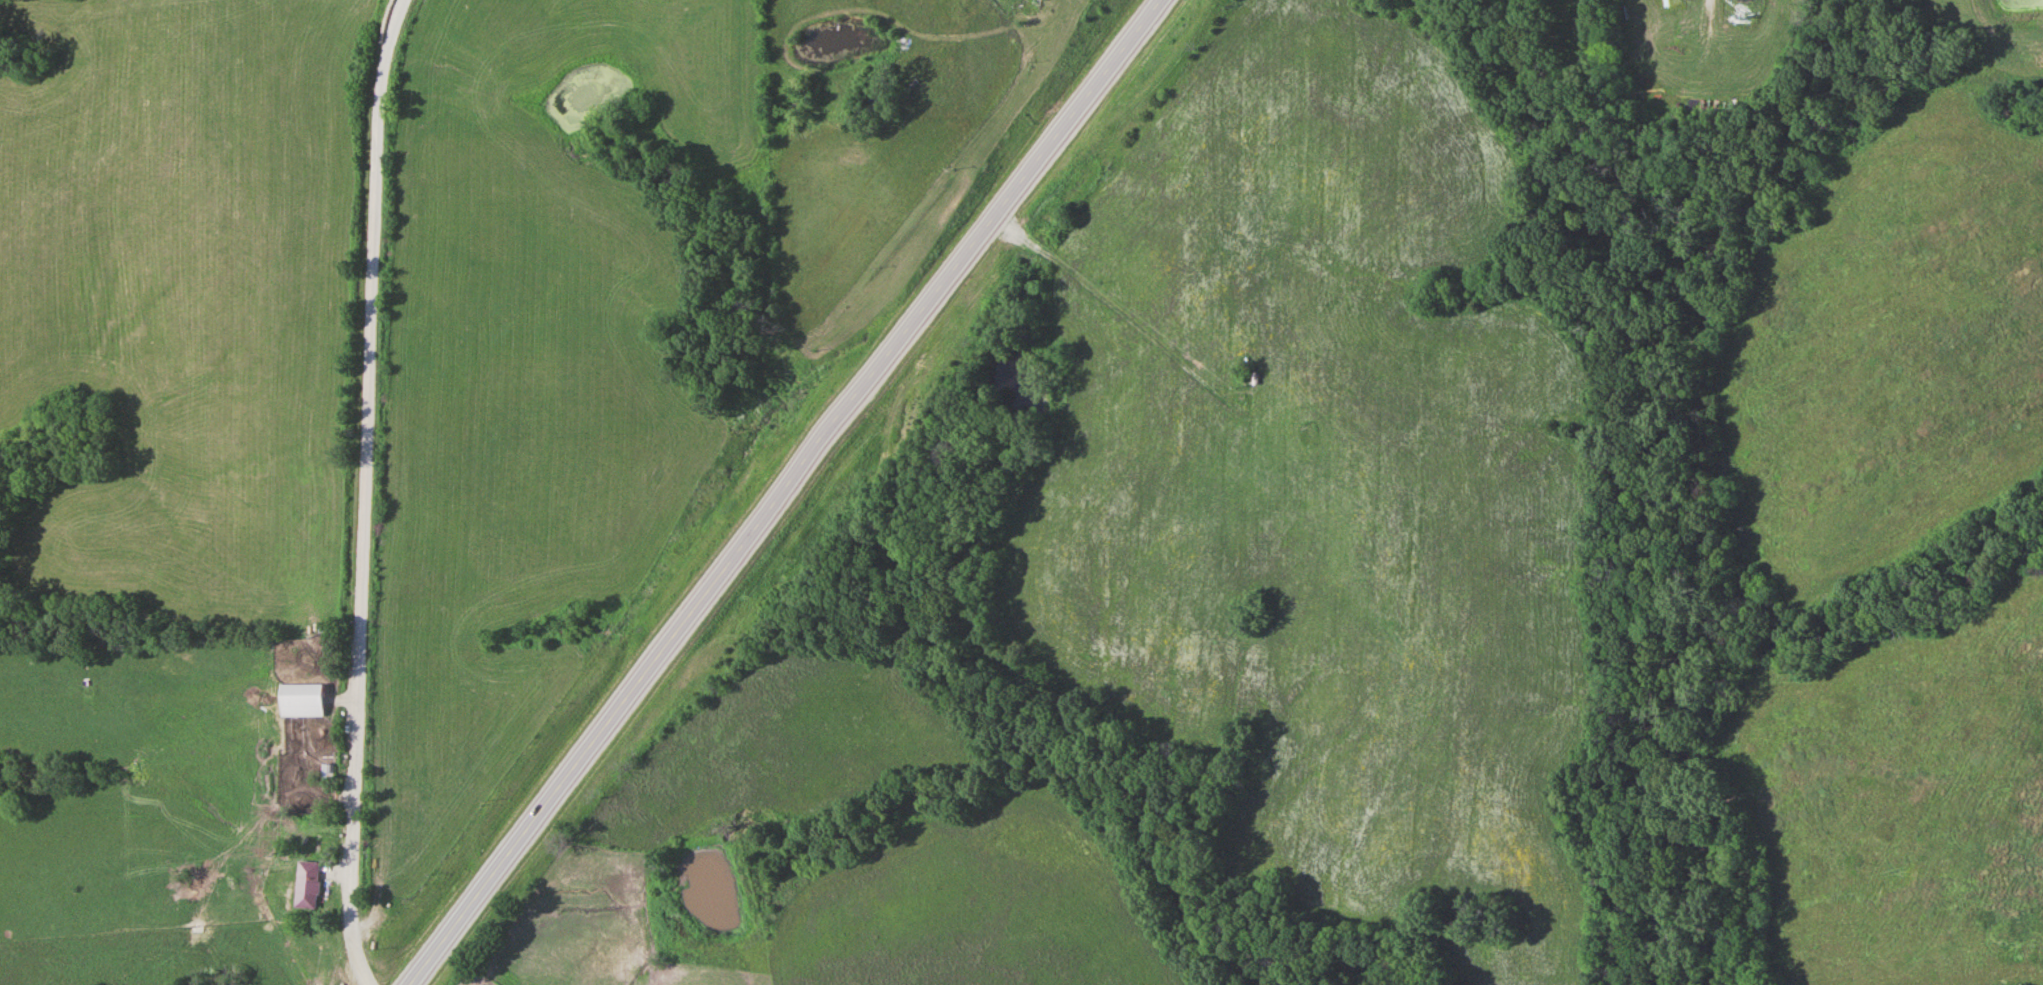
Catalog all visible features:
road: (367, 491)
road: (783, 492)
building: (302, 700)
building: (308, 884)

